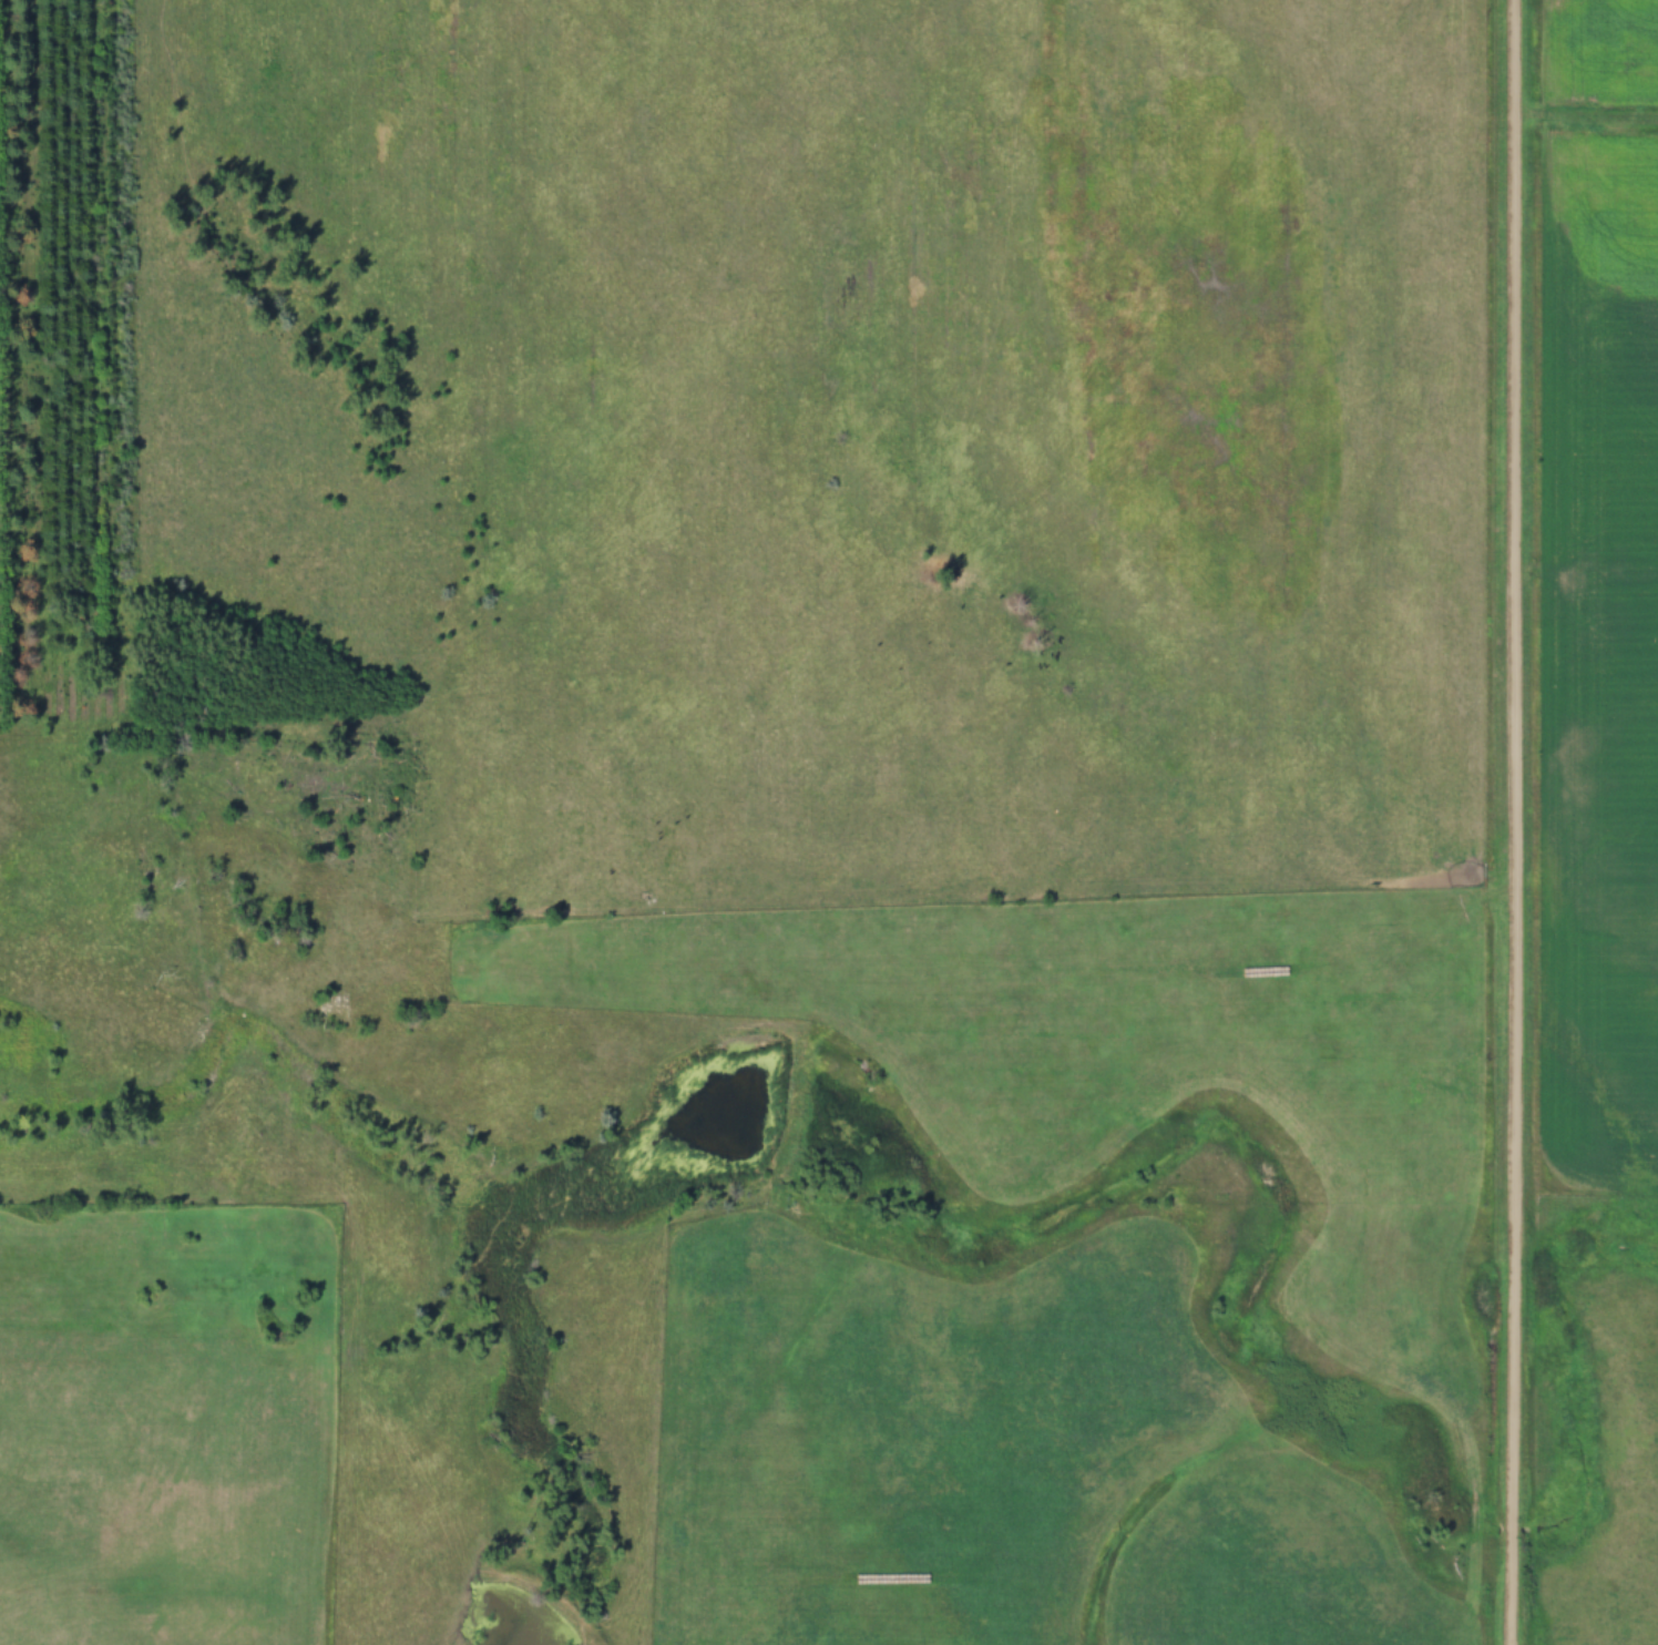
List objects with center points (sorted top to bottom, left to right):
road: (1508, 822)

